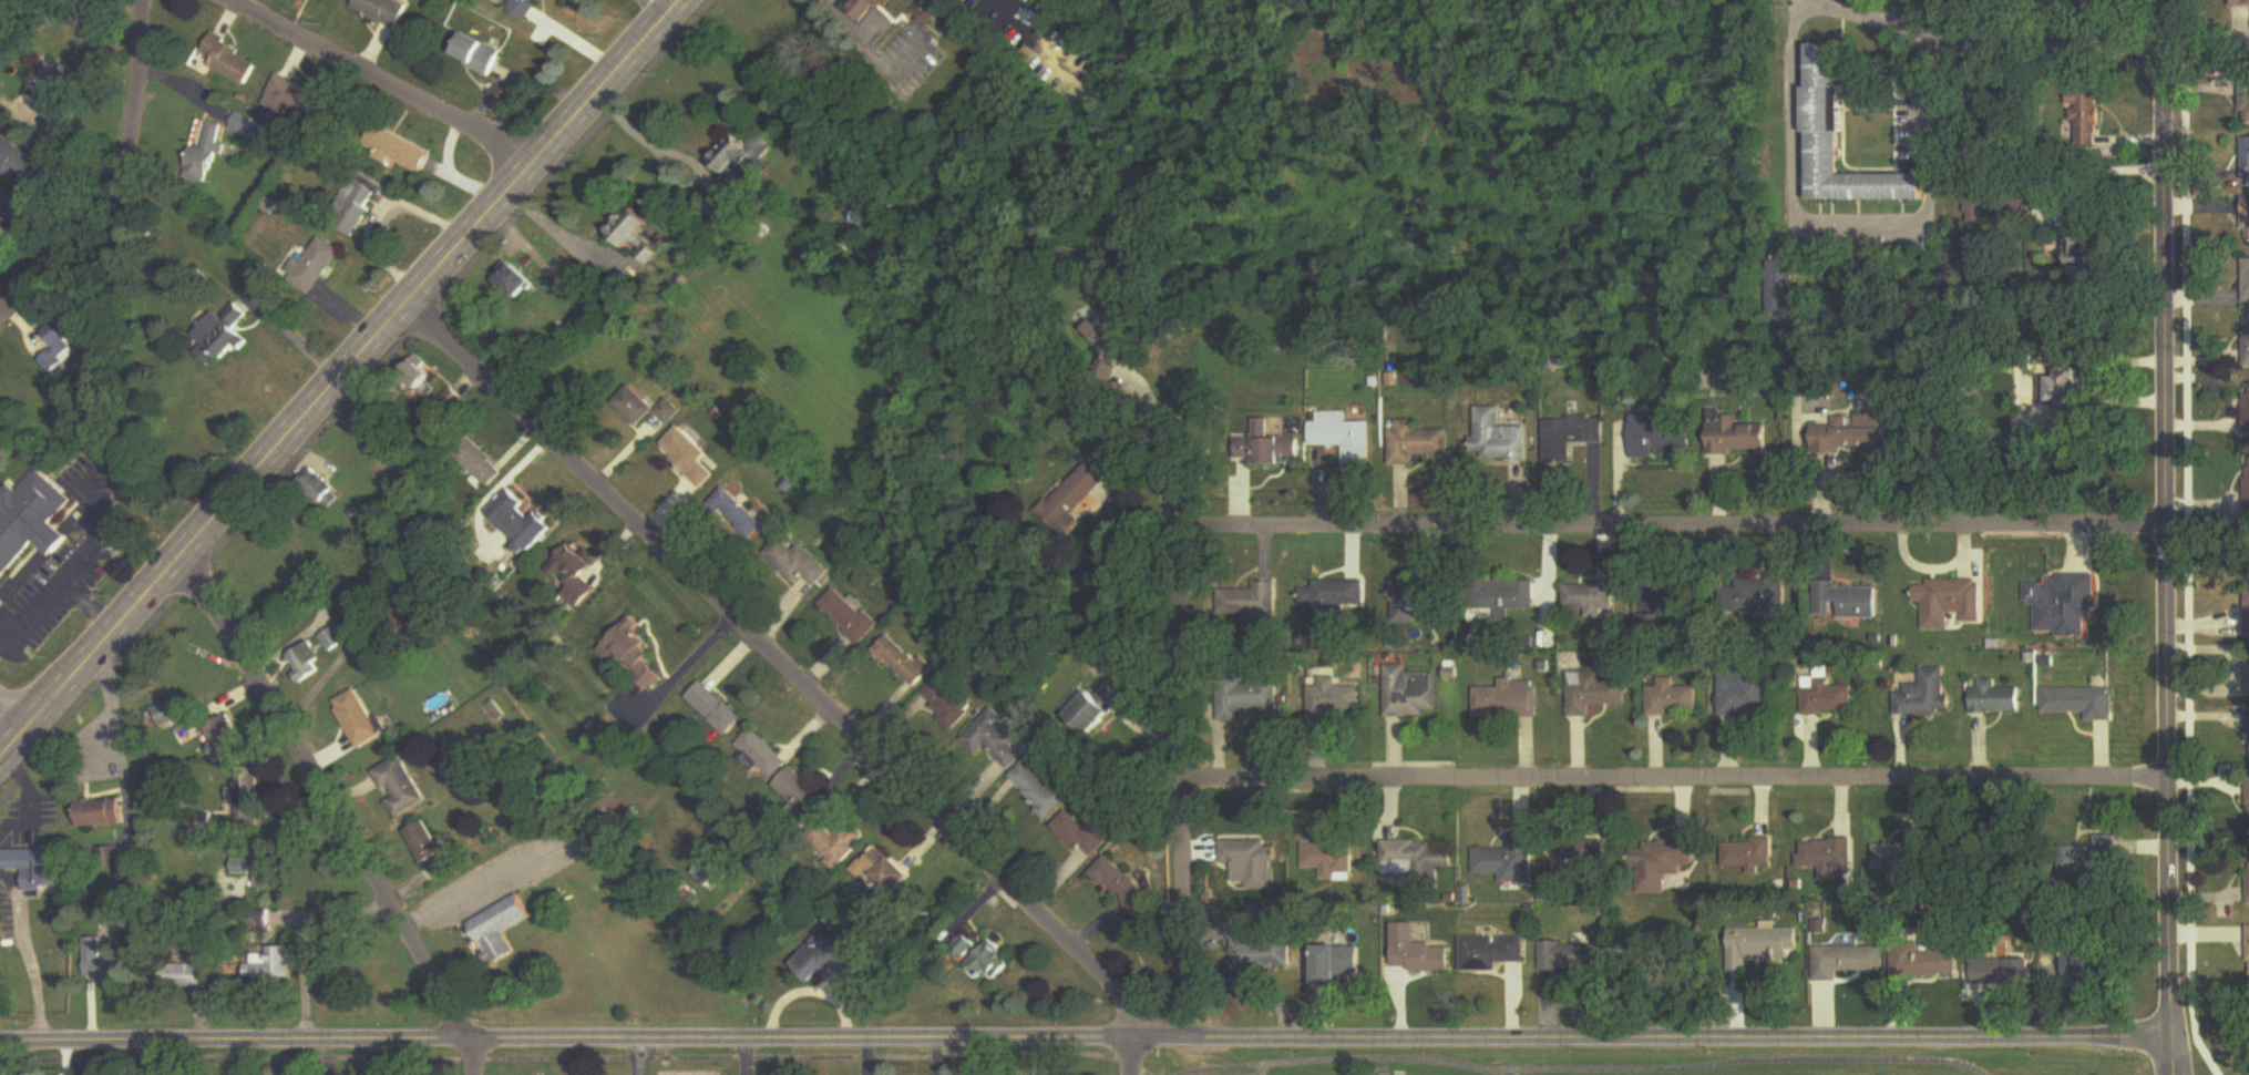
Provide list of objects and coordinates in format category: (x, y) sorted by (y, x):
building: (2240, 2)
road: (1019, 8)
building: (524, 9)
building: (865, 9)
building: (383, 11)
road: (2083, 41)
road: (856, 42)
building: (480, 55)
building: (232, 62)
road: (381, 81)
road: (1919, 81)
building: (299, 102)
building: (58, 113)
building: (2086, 117)
road: (644, 135)
building: (1842, 141)
building: (399, 152)
building: (204, 154)
building: (2243, 158)
building: (748, 160)
building: (21, 165)
road: (119, 182)
road: (1796, 191)
building: (357, 207)
road: (388, 215)
building: (2245, 218)
building: (2, 223)
building: (635, 227)
road: (555, 228)
building: (650, 254)
building: (2084, 254)
building: (319, 266)
building: (520, 280)
building: (2246, 281)
building: (1780, 287)
building: (1112, 327)
building: (226, 335)
building: (2246, 342)
building: (62, 345)
road: (340, 377)
building: (418, 381)
building: (453, 400)
building: (645, 408)
building: (2246, 410)
building: (369, 426)
building: (1662, 433)
building: (1344, 437)
building: (1570, 437)
building: (1736, 437)
building: (1852, 437)
building: (1503, 440)
building: (1415, 442)
building: (1266, 448)
road: (1157, 452)
building: (690, 457)
building: (479, 463)
building: (2246, 484)
building: (322, 489)
building: (1074, 500)
building: (738, 516)
road: (2164, 519)
building: (31, 521)
building: (521, 521)
road: (1674, 530)
building: (798, 562)
road: (74, 565)
building: (576, 576)
building: (1947, 596)
building: (1506, 597)
building: (1764, 597)
building: (1333, 598)
building: (1590, 598)
building: (1249, 601)
building: (1420, 602)
building: (1846, 602)
road: (88, 603)
building: (2062, 605)
building: (2247, 610)
building: (851, 615)
building: (333, 641)
building: (634, 653)
building: (905, 661)
building: (306, 663)
road: (684, 665)
building: (2245, 666)
road: (793, 677)
building: (1595, 693)
building: (1414, 694)
building: (1744, 694)
building: (1923, 696)
building: (1826, 697)
building: (1249, 698)
building: (1335, 698)
building: (1672, 699)
building: (1994, 699)
building: (1510, 700)
road: (16, 703)
building: (2079, 703)
building: (949, 704)
building: (1100, 709)
building: (720, 711)
building: (165, 716)
building: (359, 719)
building: (2245, 720)
building: (227, 736)
building: (1000, 740)
building: (762, 755)
road: (1184, 784)
road: (1676, 784)
building: (401, 787)
building: (1040, 789)
road: (29, 795)
building: (800, 796)
building: (2247, 798)
building: (254, 800)
road: (331, 811)
building: (102, 813)
building: (1086, 836)
building: (839, 843)
building: (432, 849)
building: (1746, 853)
building: (1327, 856)
building: (1577, 856)
building: (1893, 856)
building: (1666, 857)
building: (1828, 859)
building: (1421, 861)
building: (1503, 861)
building: (1255, 863)
building: (41, 868)
building: (883, 869)
building: (273, 876)
building: (2247, 882)
road: (450, 894)
building: (261, 923)
building: (501, 929)
building: (962, 938)
road: (305, 941)
building: (1762, 941)
building: (966, 944)
building: (2247, 948)
building: (1417, 949)
building: (1489, 950)
building: (1264, 952)
road: (28, 953)
building: (1570, 954)
building: (1844, 956)
building: (1917, 956)
building: (1334, 959)
building: (828, 960)
building: (101, 962)
building: (990, 962)
building: (2085, 964)
building: (273, 965)
building: (2002, 966)
building: (185, 976)
road: (1085, 1036)
road: (639, 1056)
road: (2170, 1056)
park: (1631, 1063)

